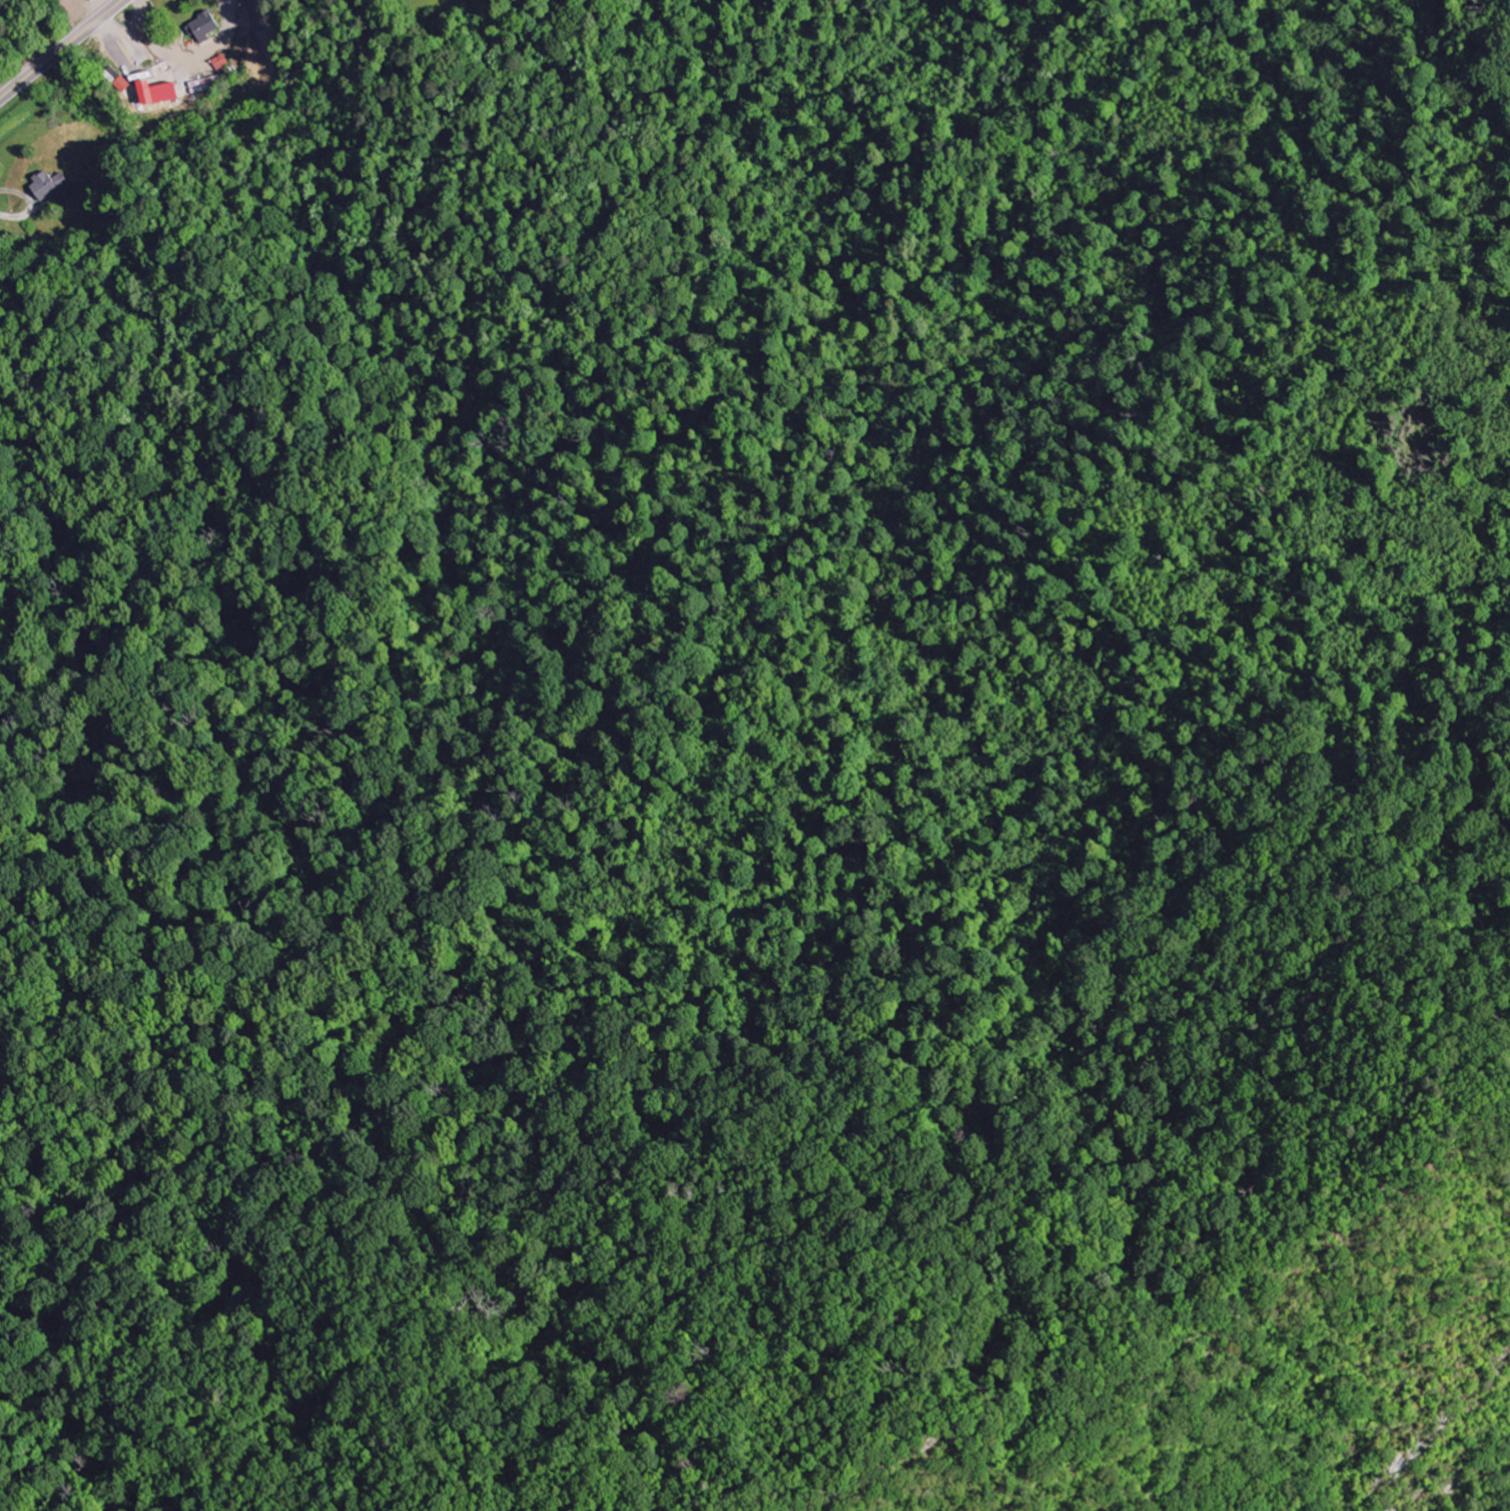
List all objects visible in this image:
building: (205, 27)
road: (135, 47)
road: (61, 49)
building: (52, 187)

